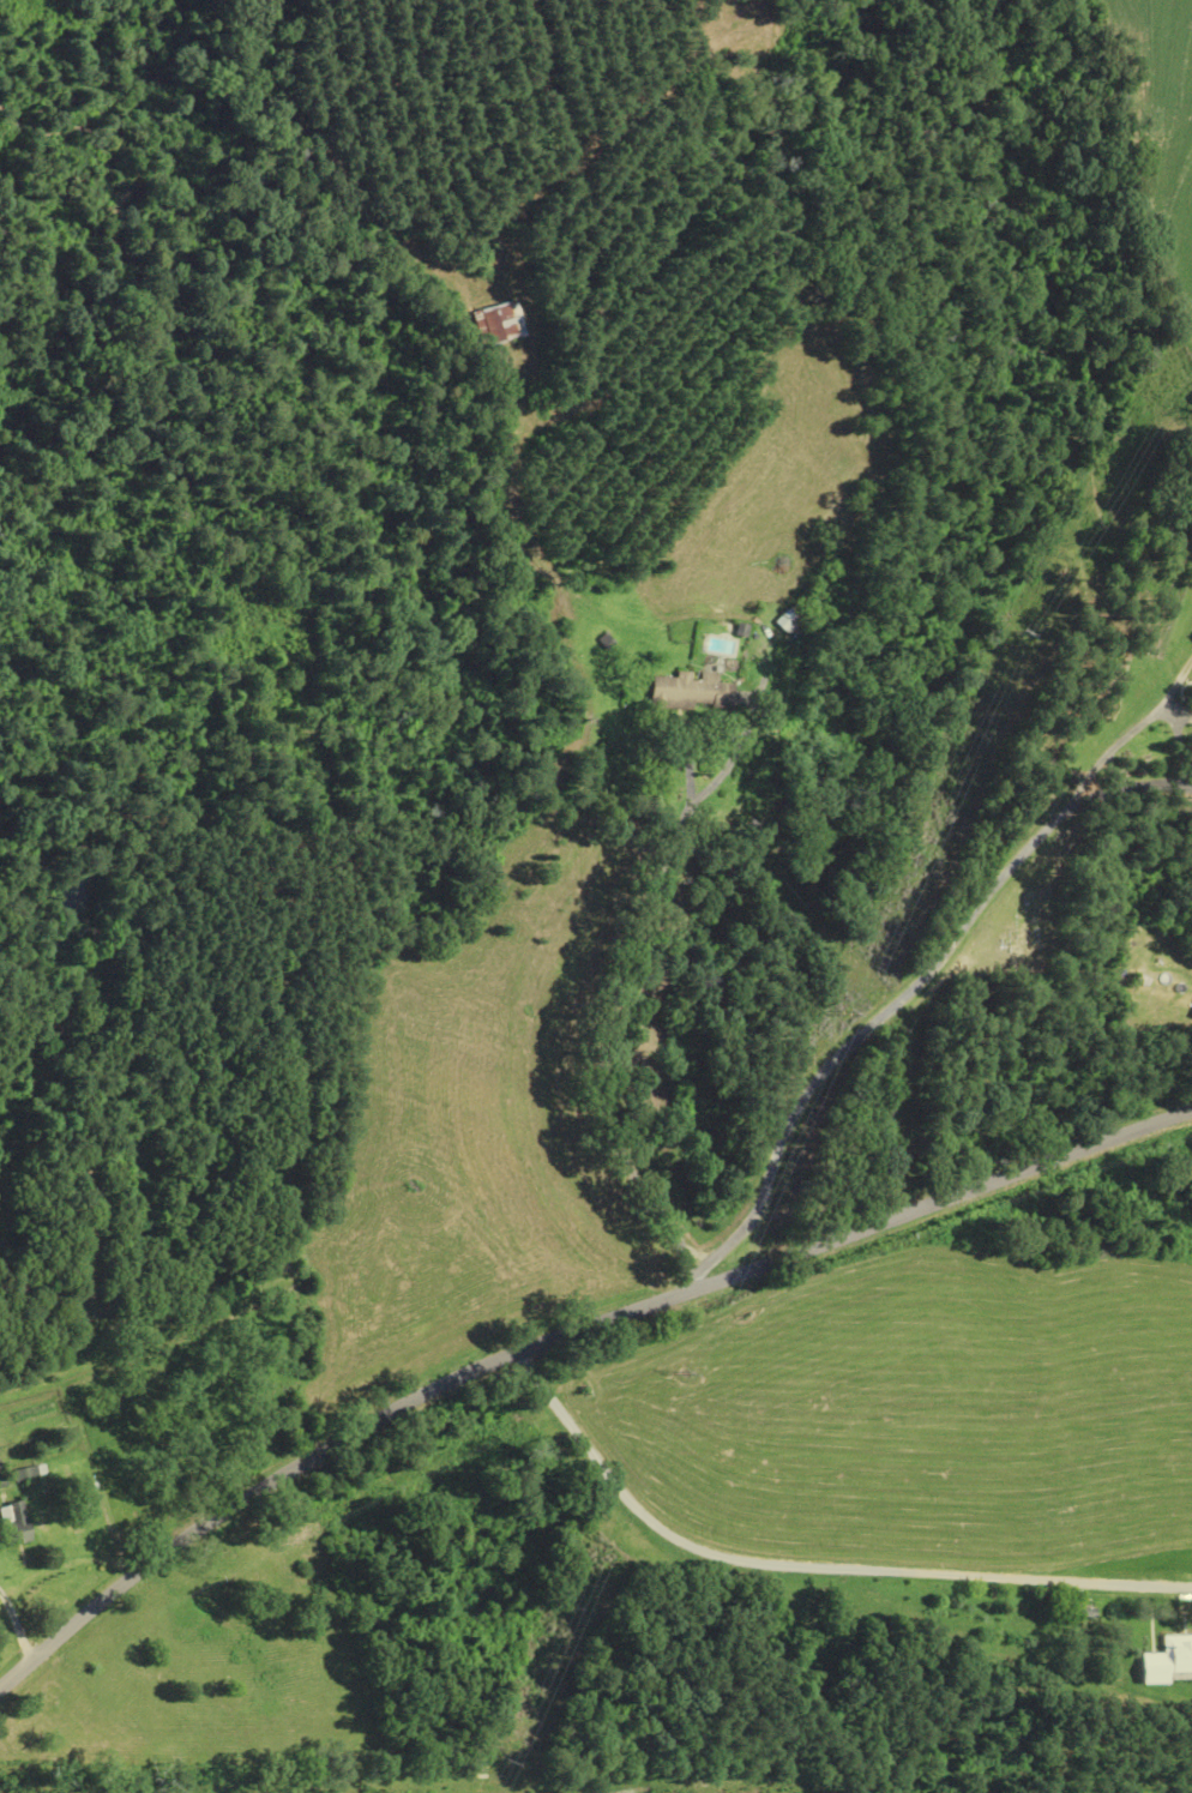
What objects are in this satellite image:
building: (502, 324)
building: (513, 553)
building: (789, 622)
building: (694, 693)
road: (908, 995)
building: (1185, 1006)
road: (602, 1087)
road: (561, 1335)
building: (31, 1473)
building: (2, 1479)
building: (17, 1522)
road: (807, 1568)
building: (1084, 1612)

